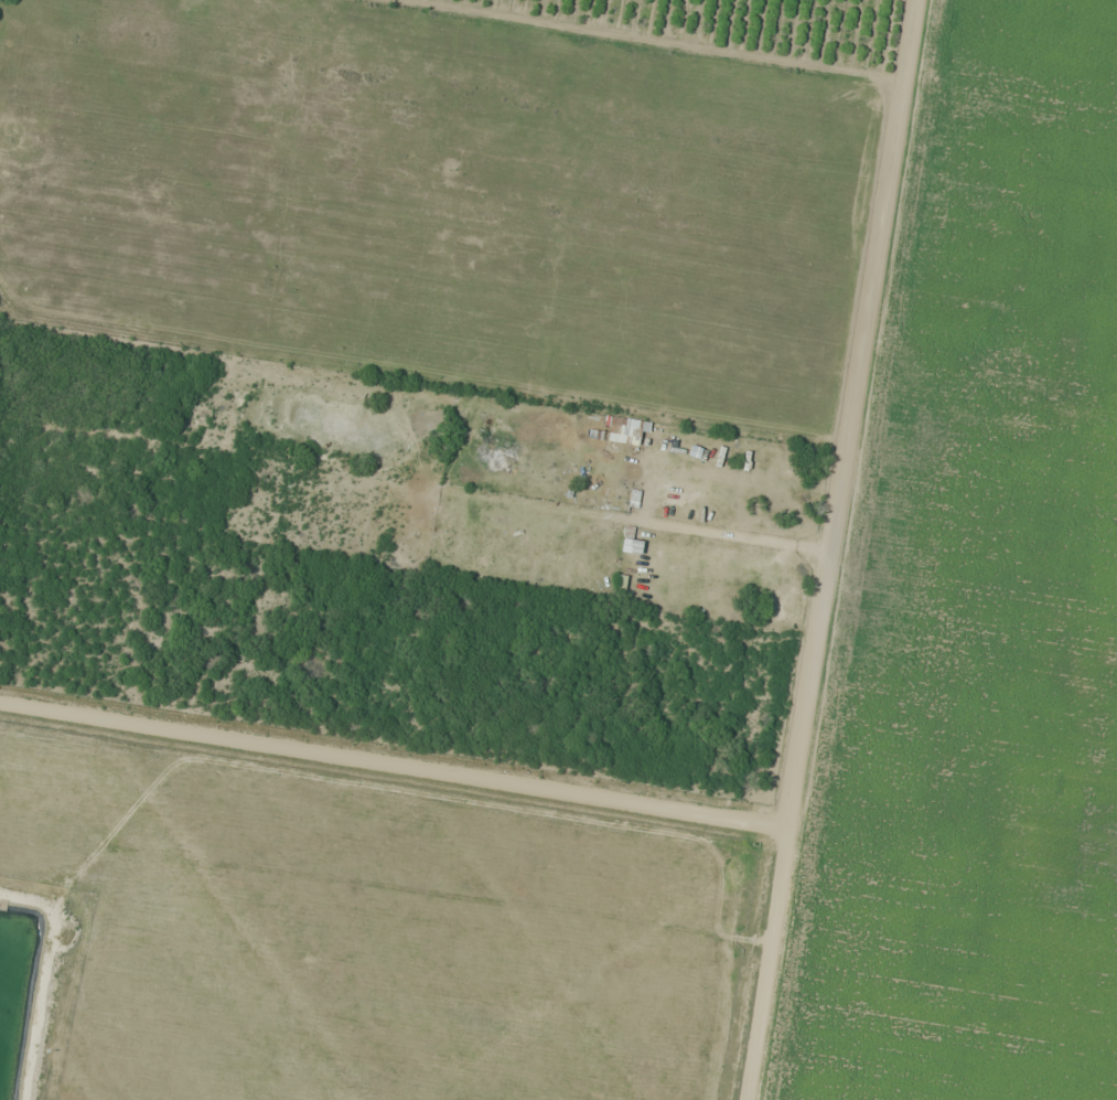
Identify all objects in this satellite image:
road: (852, 415)
building: (625, 430)
building: (635, 501)
building: (633, 543)
road: (394, 769)
road: (766, 964)

